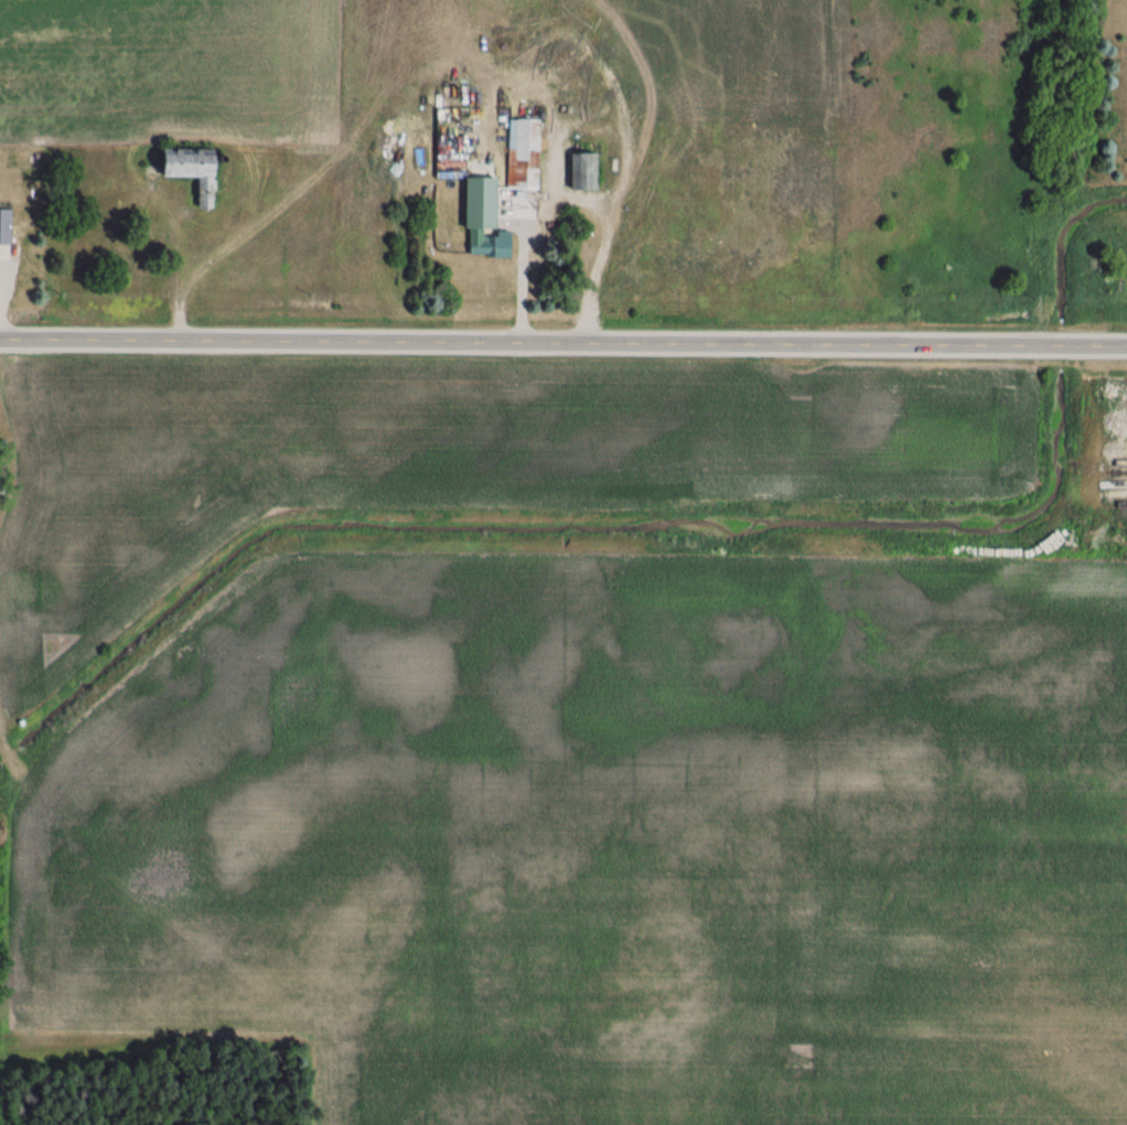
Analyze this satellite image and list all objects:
building: (526, 154)
building: (189, 170)
building: (581, 172)
road: (565, 195)
building: (463, 201)
building: (524, 202)
building: (6, 226)
building: (487, 247)
road: (562, 343)

